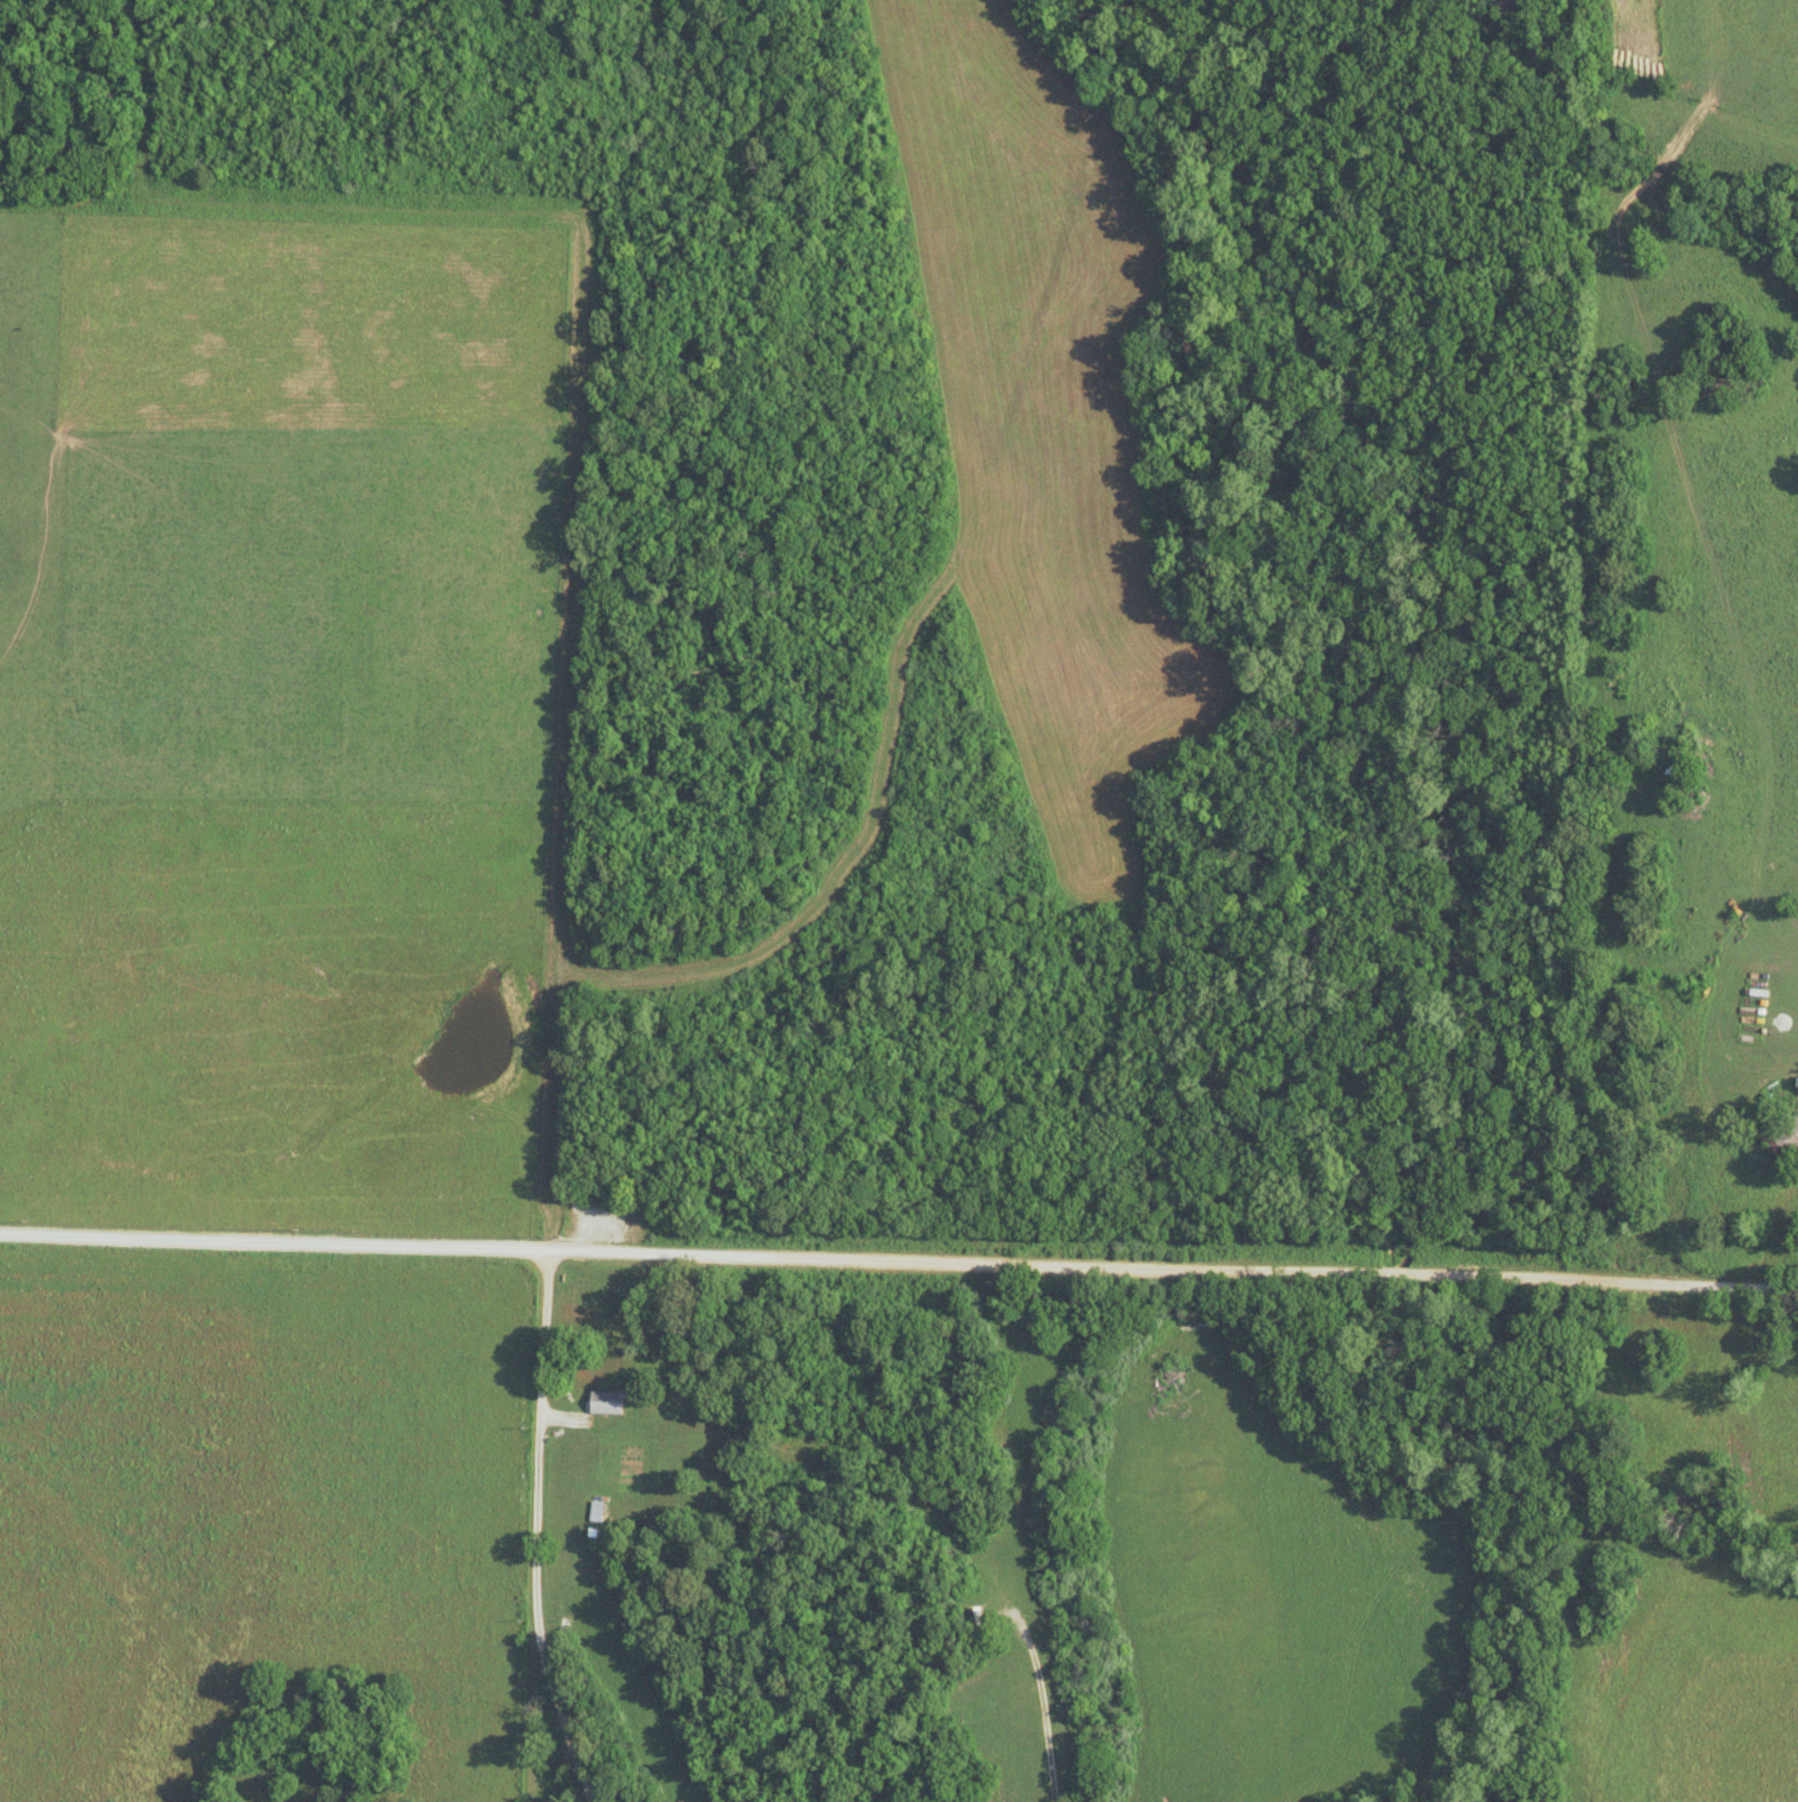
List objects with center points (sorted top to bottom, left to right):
road: (1562, 760)
building: (1784, 1134)
road: (898, 1271)
building: (604, 1401)
road: (535, 1533)
building: (975, 1616)
road: (1037, 1704)

